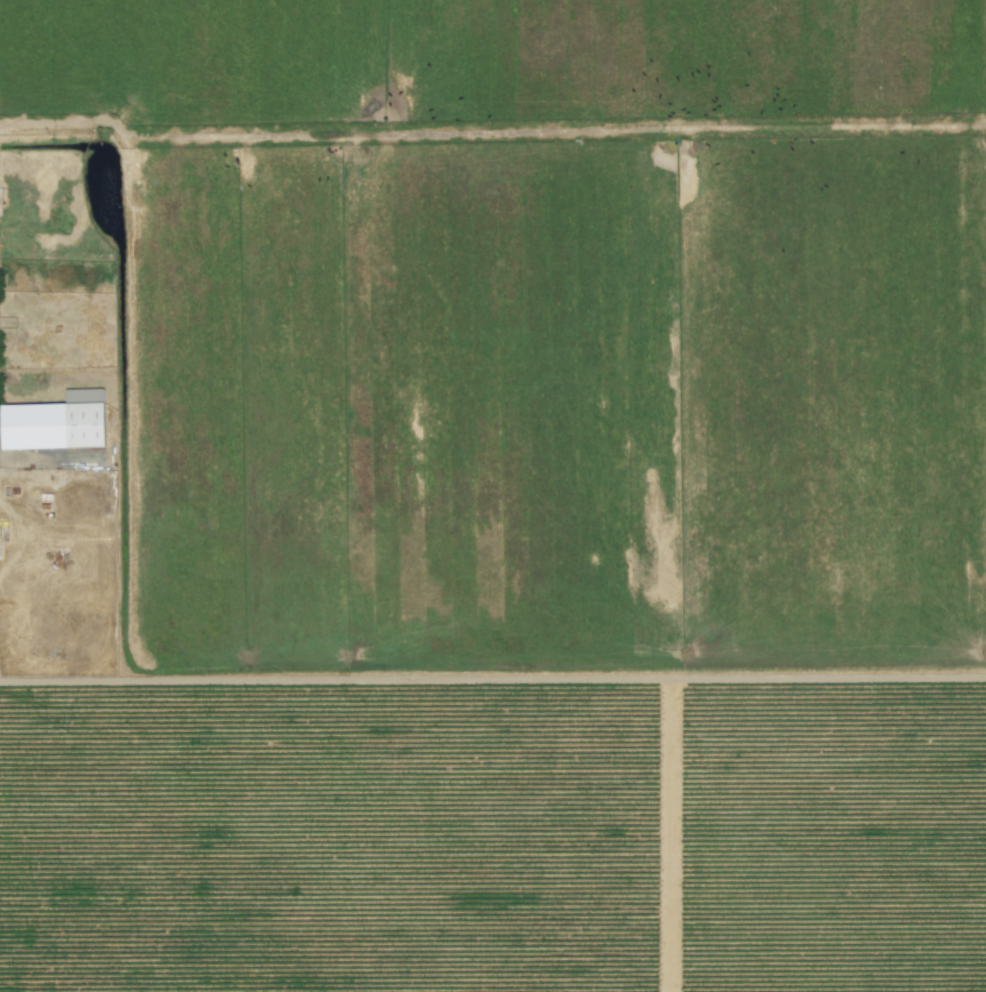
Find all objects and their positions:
building: (56, 422)
road: (493, 678)

